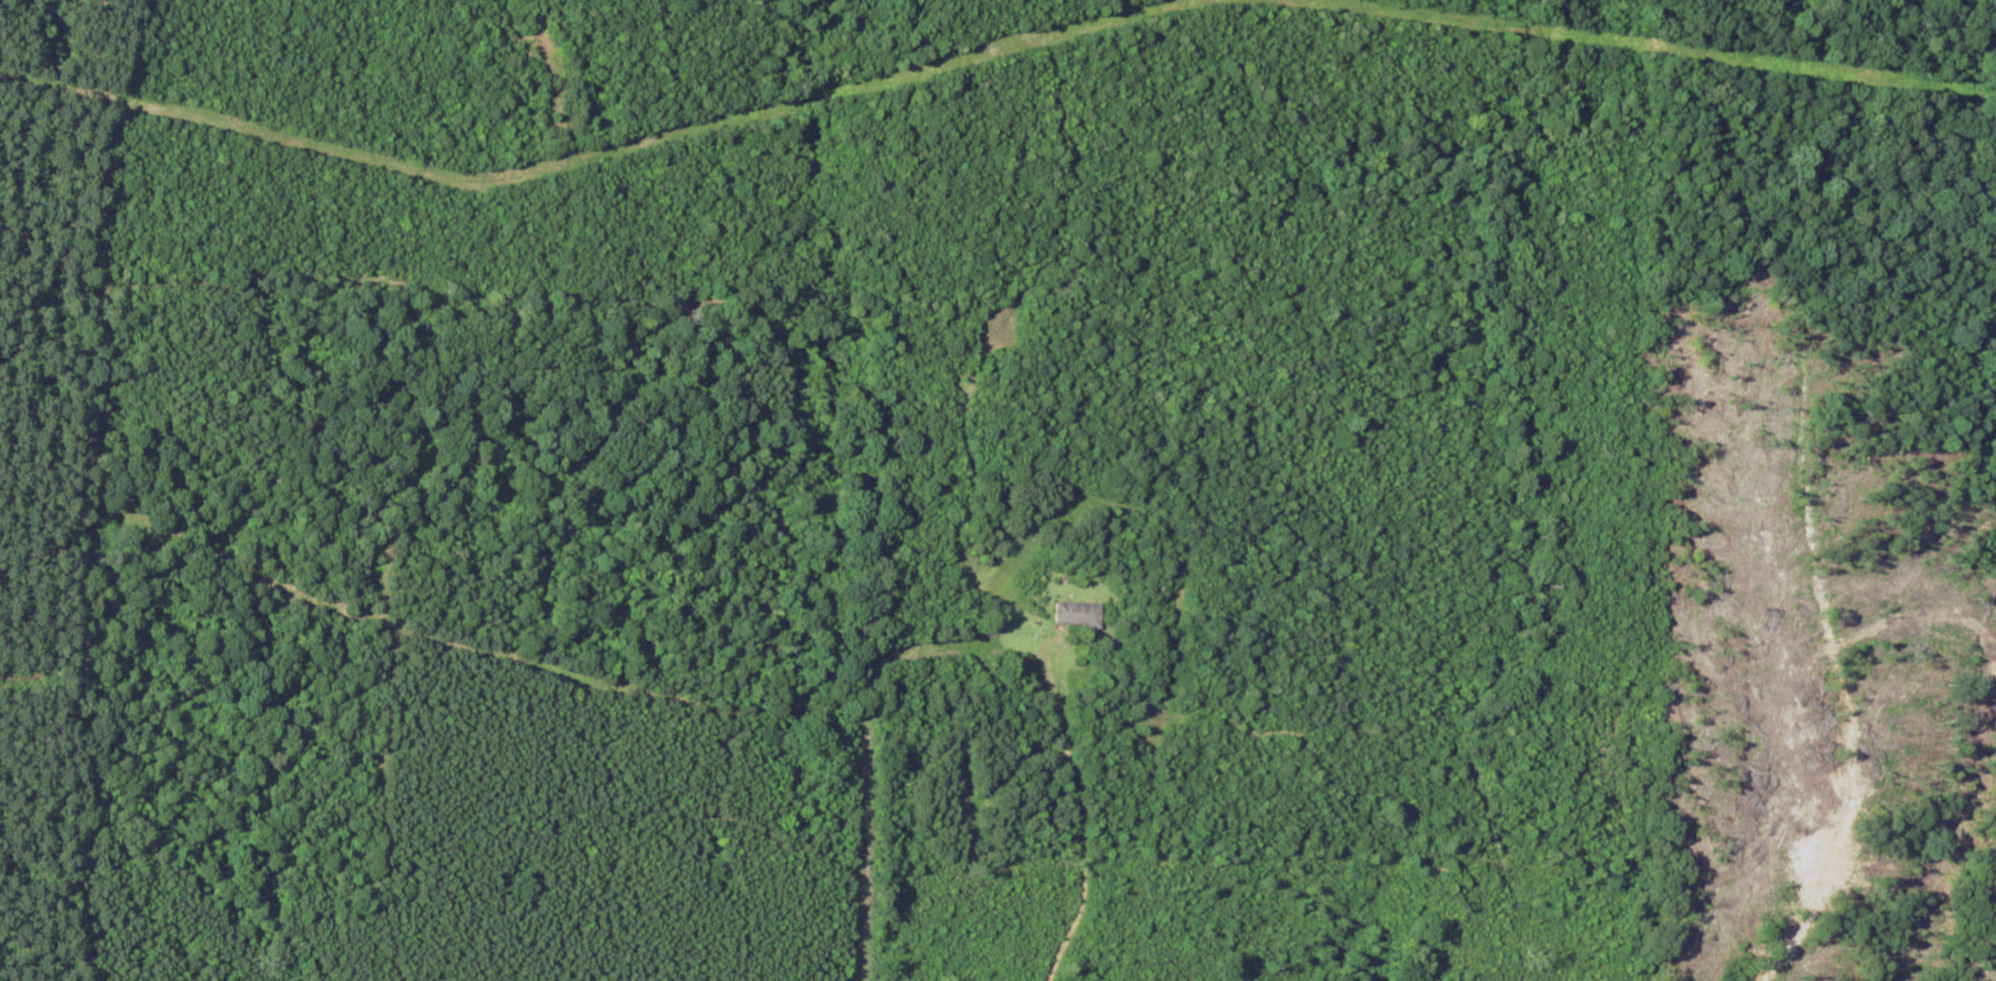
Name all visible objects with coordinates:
building: (1081, 613)
road: (1837, 674)

